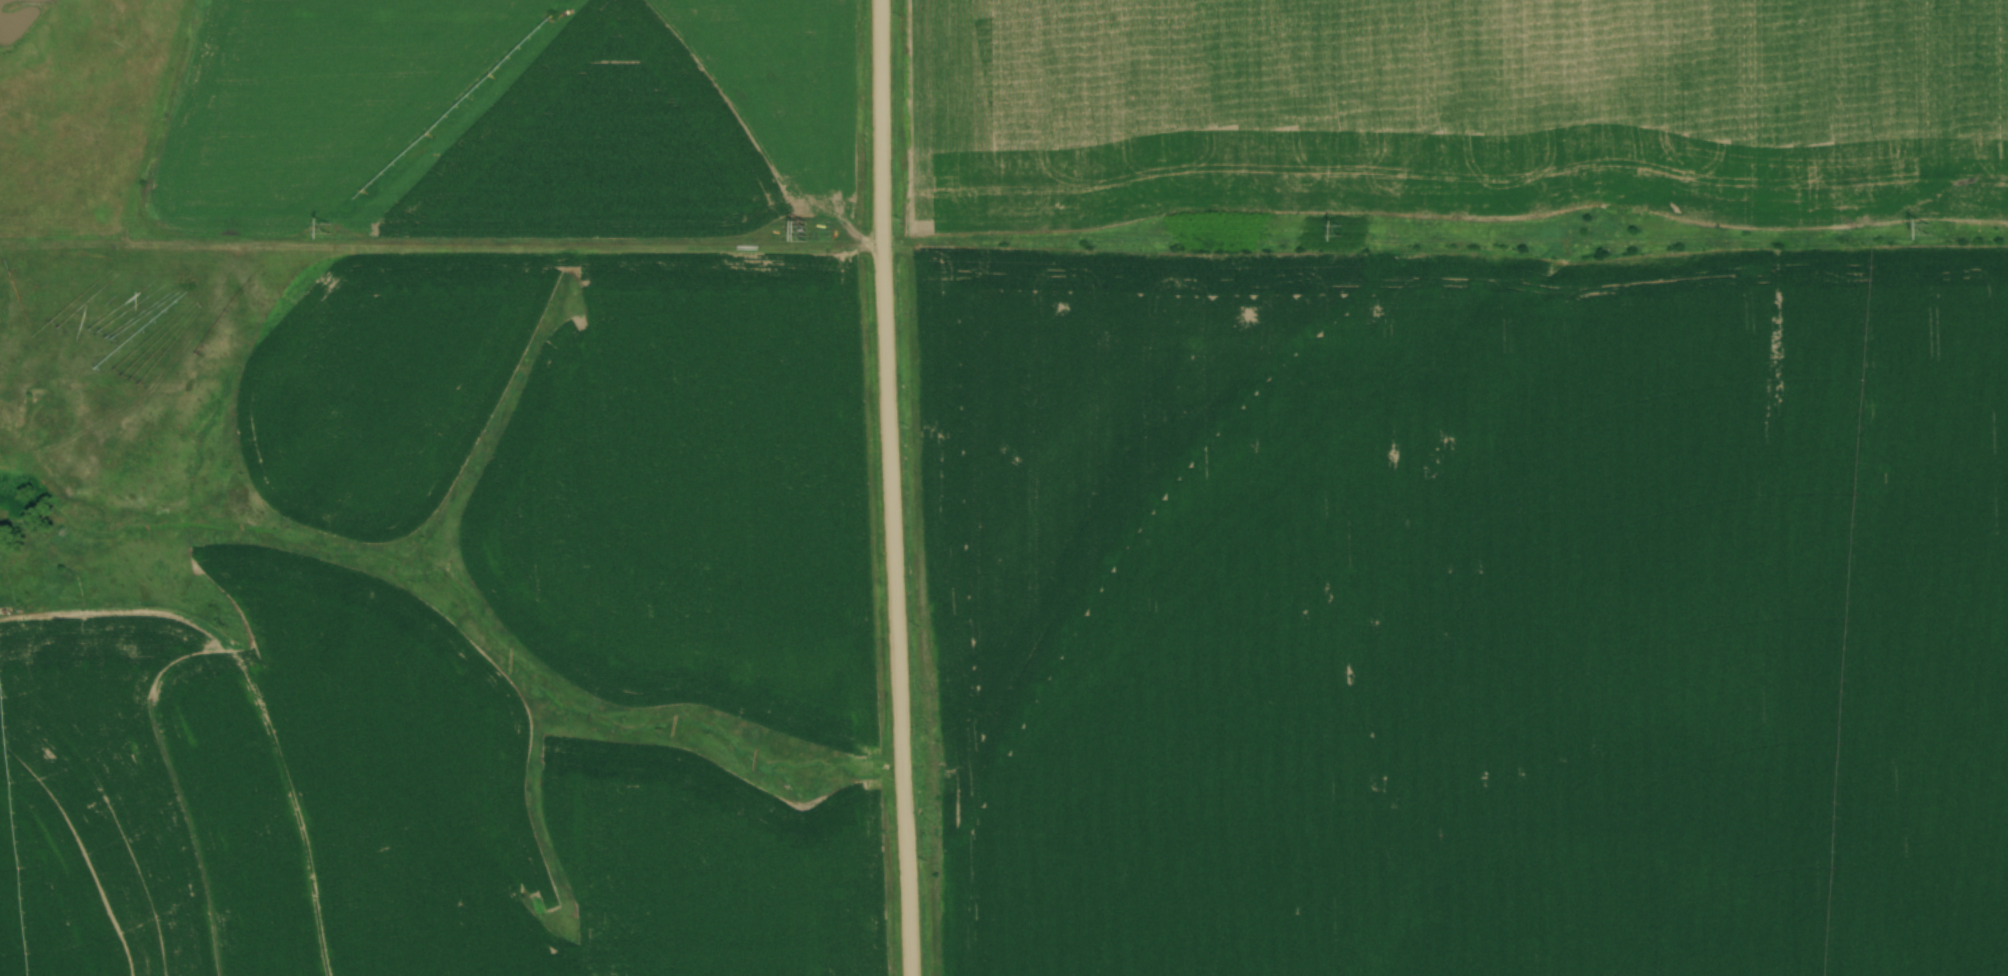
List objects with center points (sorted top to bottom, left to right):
power tower: (328, 230)
power tower: (1345, 230)
power tower: (1928, 230)
power tower: (805, 232)
road: (886, 488)

